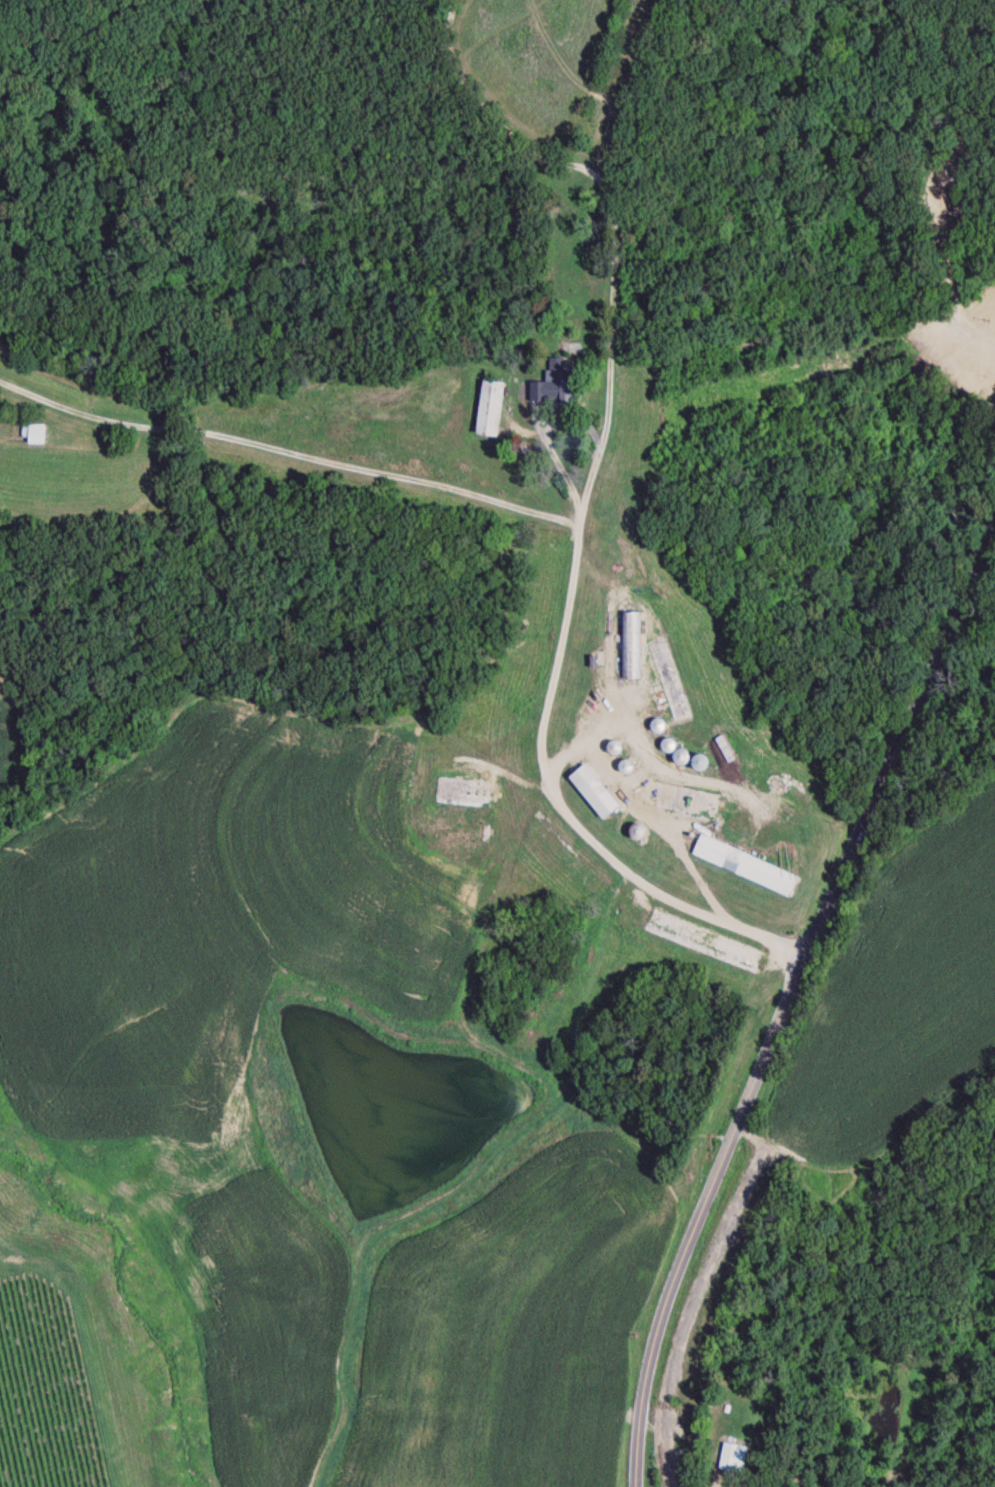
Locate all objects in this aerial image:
building: (557, 385)
building: (492, 410)
building: (0, 414)
road: (289, 452)
road: (576, 525)
building: (631, 647)
building: (671, 684)
building: (660, 727)
building: (694, 761)
building: (465, 794)
building: (596, 794)
building: (681, 802)
building: (460, 833)
building: (639, 834)
building: (748, 867)
building: (707, 944)
road: (776, 1034)
building: (733, 1460)

